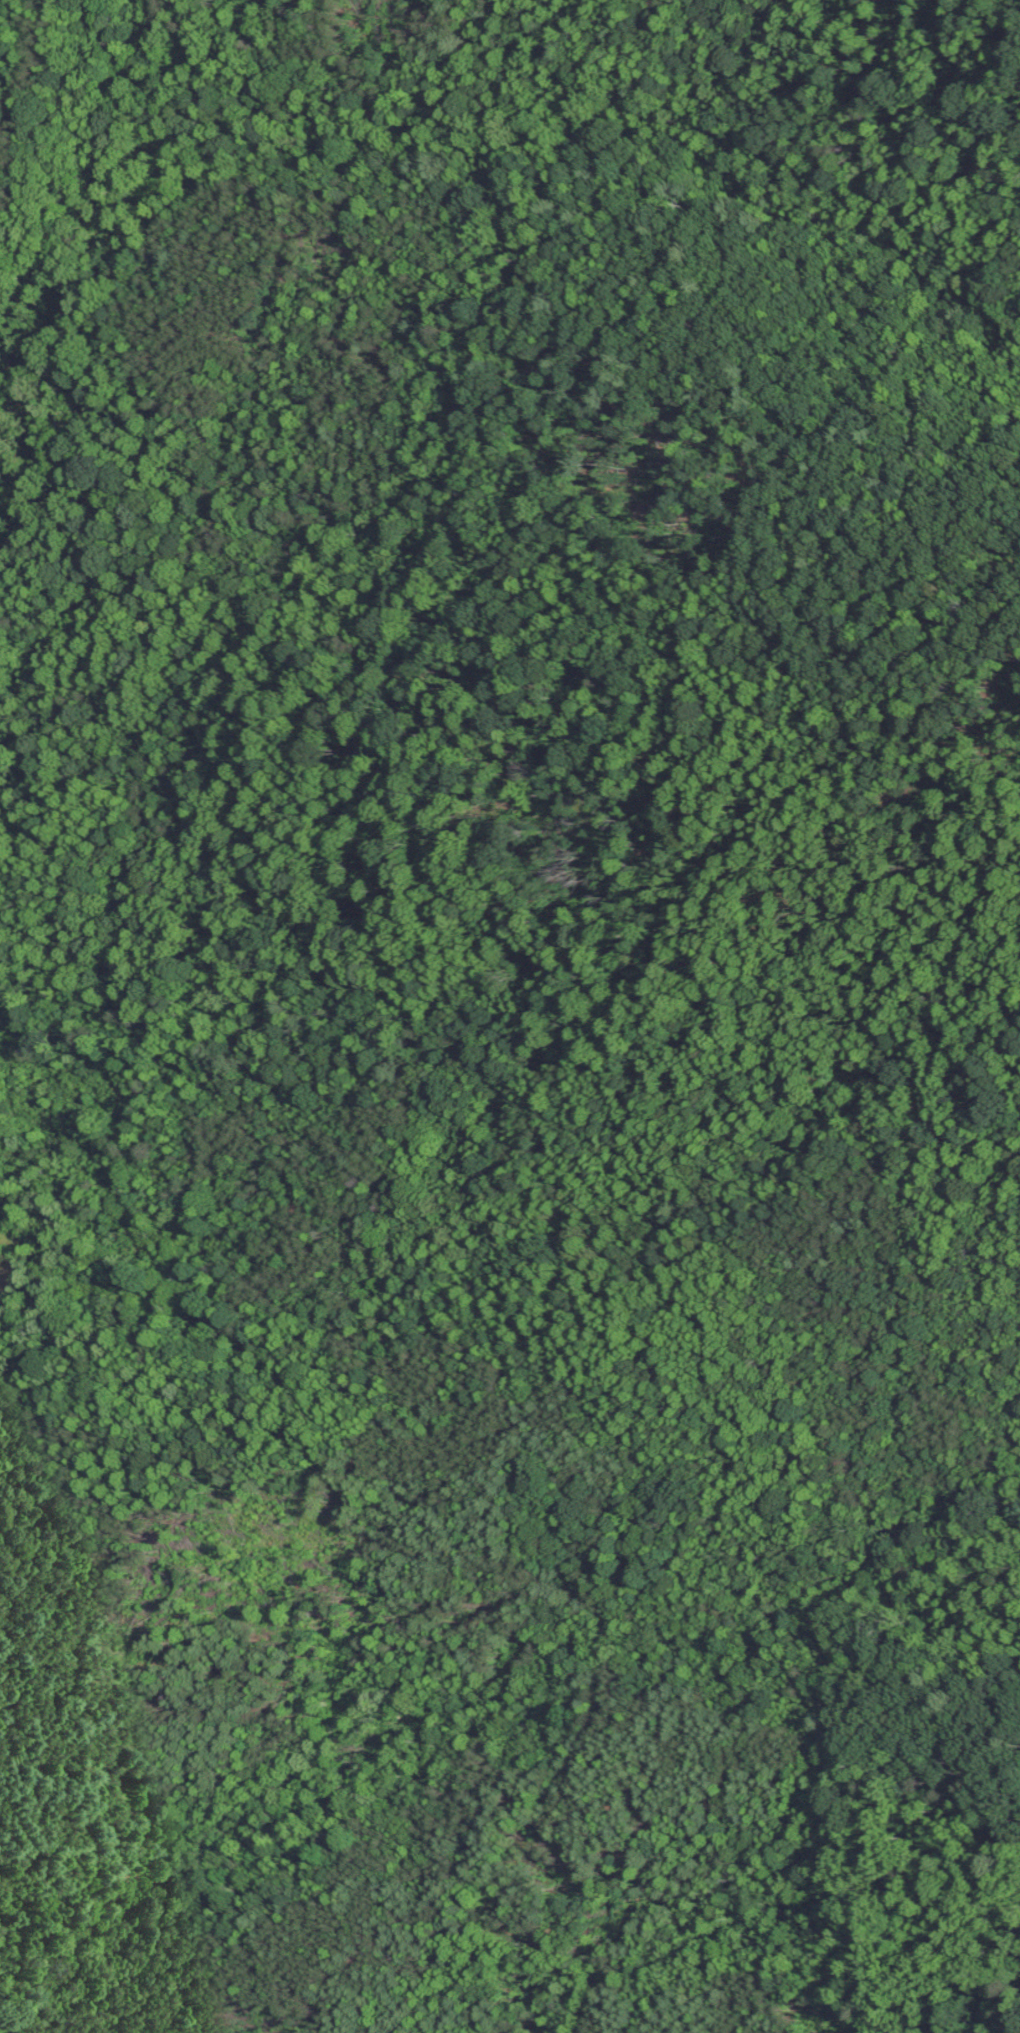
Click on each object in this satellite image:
road: (2, 1933)

